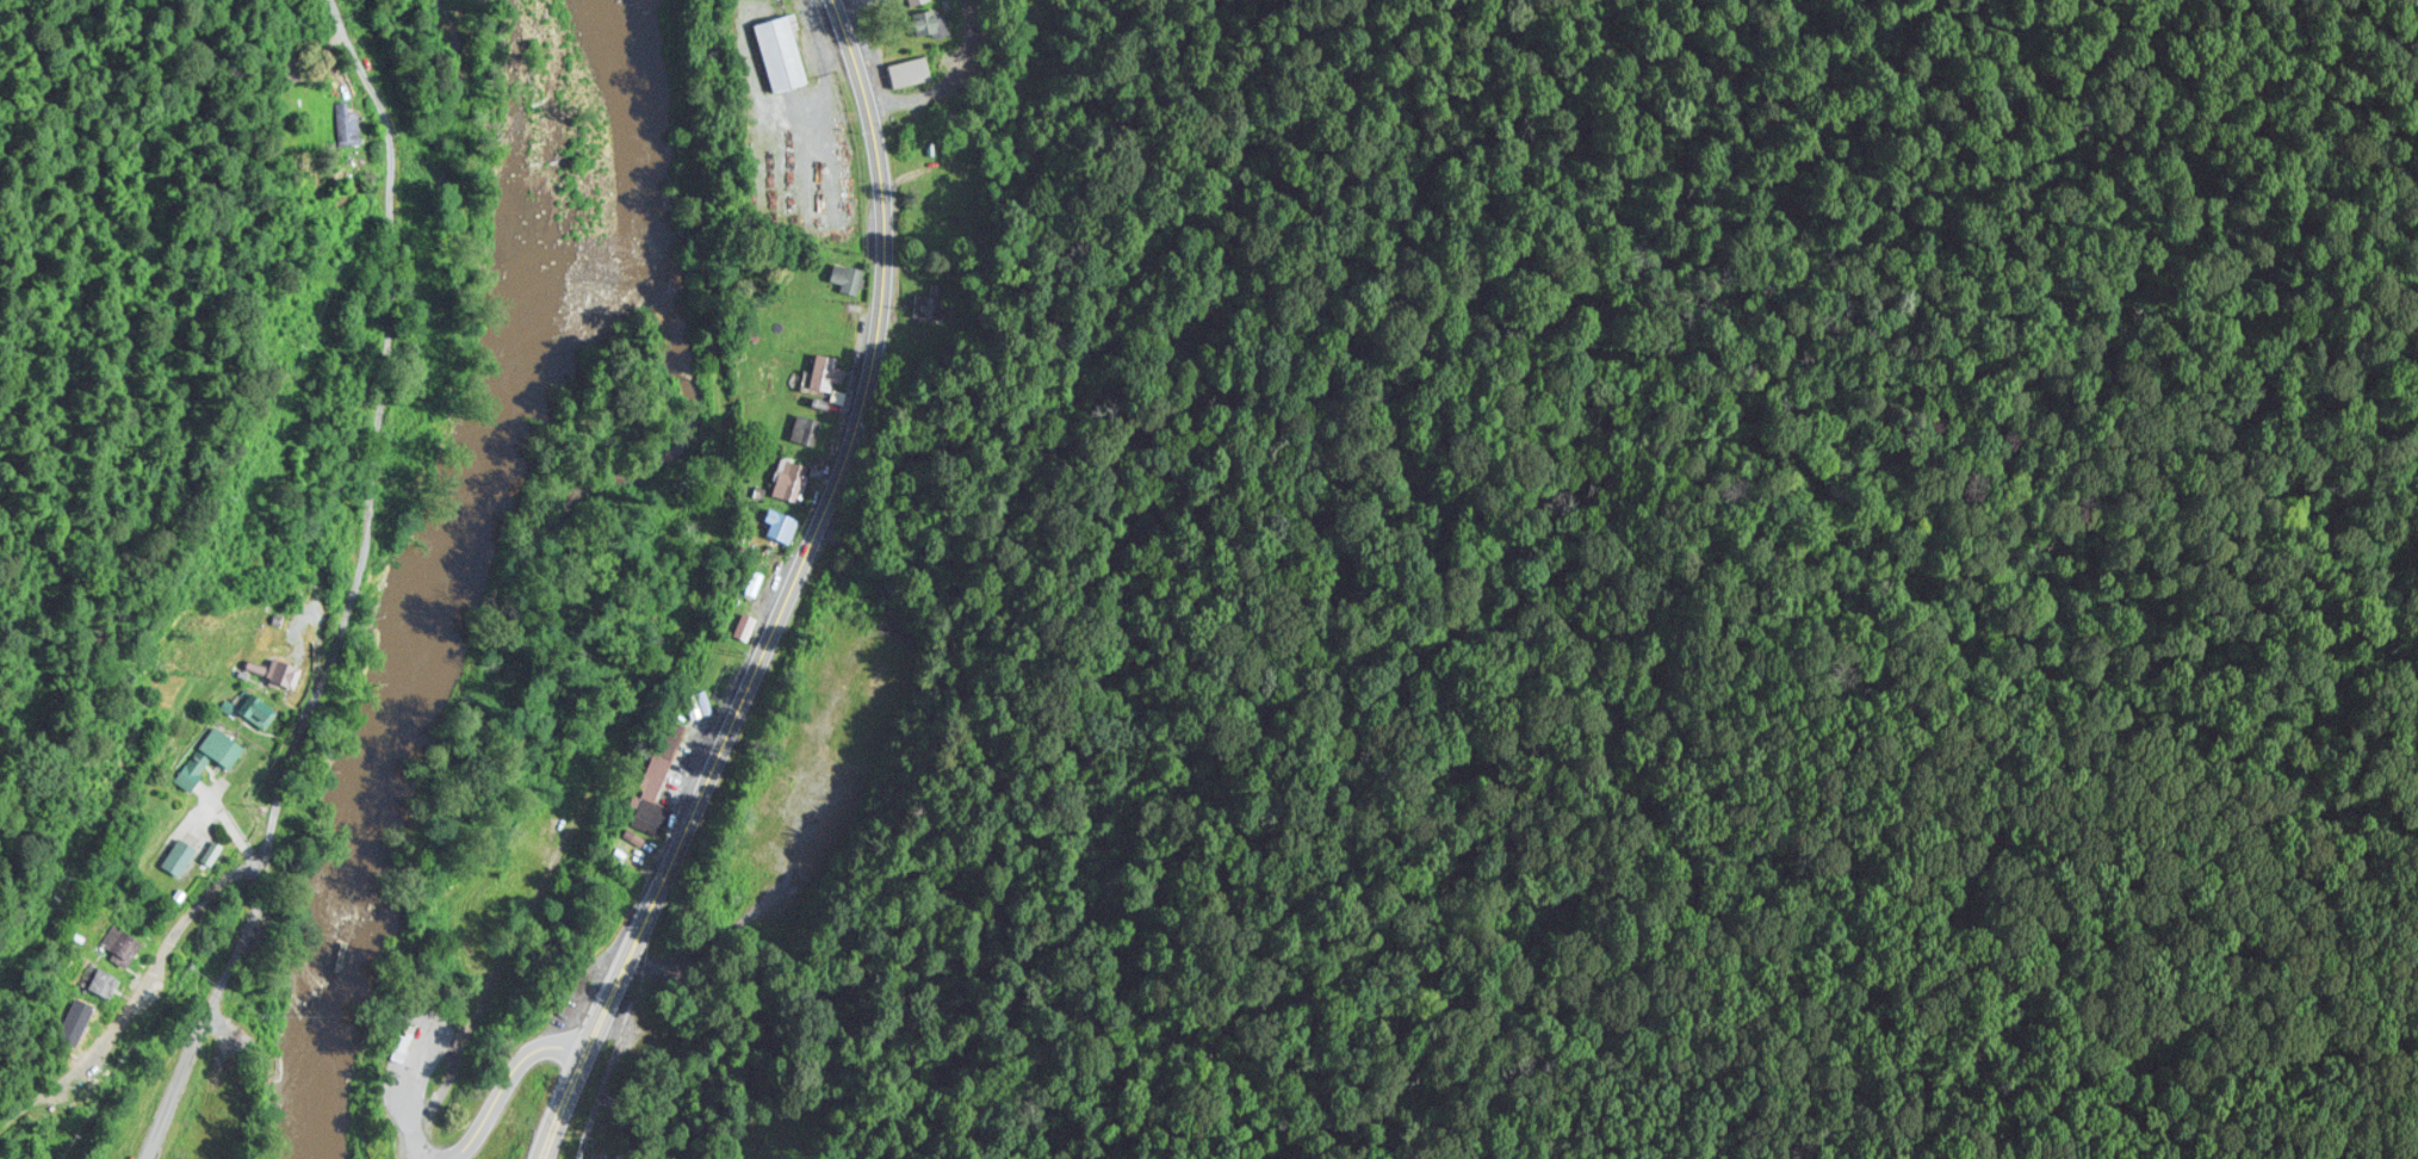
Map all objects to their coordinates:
building: (785, 50)
building: (911, 68)
road: (945, 78)
building: (848, 274)
building: (926, 302)
building: (793, 322)
building: (827, 368)
building: (806, 426)
building: (792, 476)
building: (782, 522)
river: (435, 551)
building: (306, 583)
road: (356, 589)
road: (793, 596)
road: (690, 609)
building: (281, 665)
building: (873, 692)
building: (261, 704)
building: (227, 742)
building: (659, 777)
building: (641, 853)
building: (125, 938)
building: (104, 975)
building: (81, 1021)
building: (401, 1043)
road: (464, 1139)

